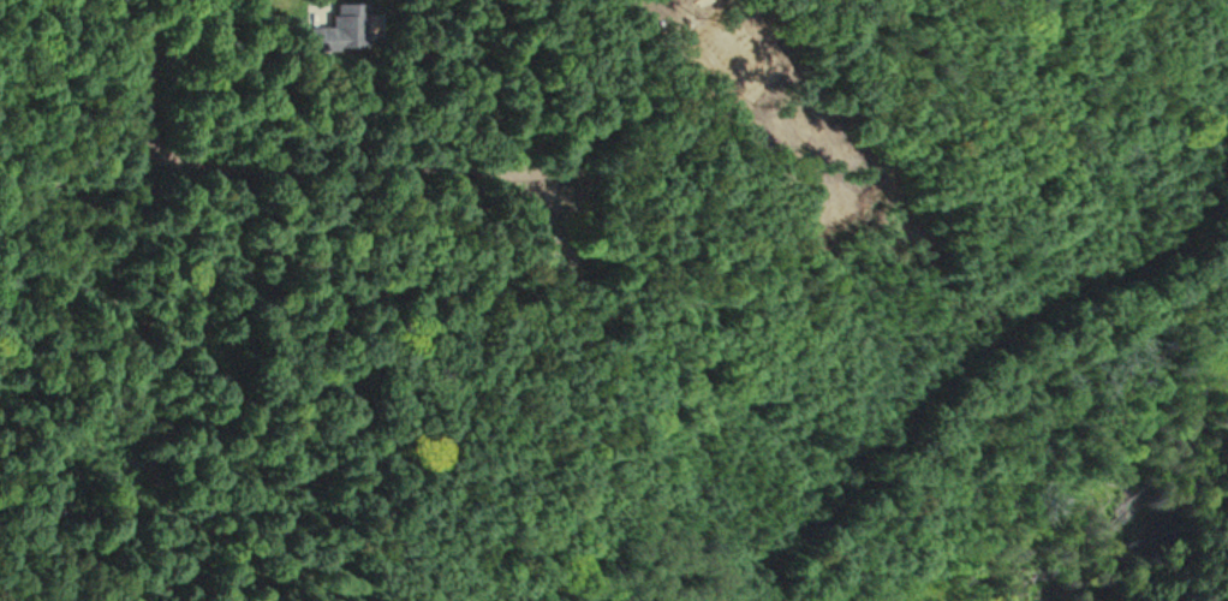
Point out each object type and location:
road: (323, 8)
building: (345, 29)
road: (1170, 40)
building: (738, 53)
road: (284, 169)

